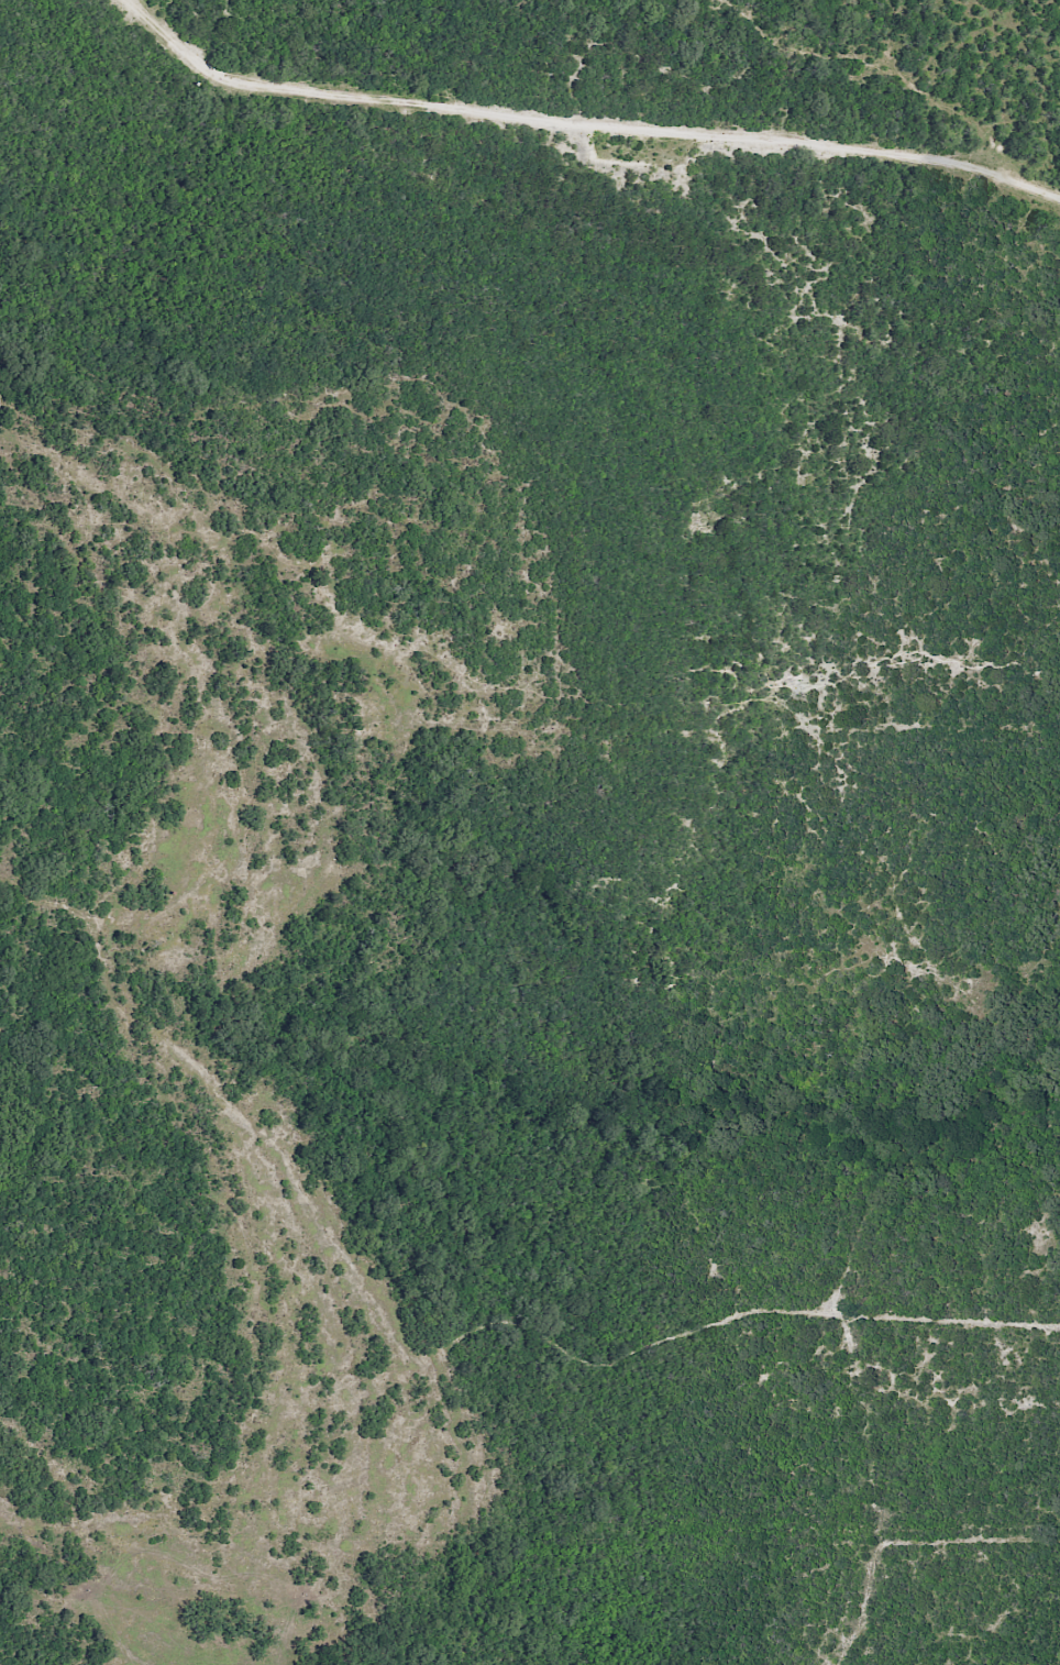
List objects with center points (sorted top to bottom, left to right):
road: (628, 58)
road: (924, 65)
road: (592, 145)
road: (224, 1127)
road: (498, 1354)

